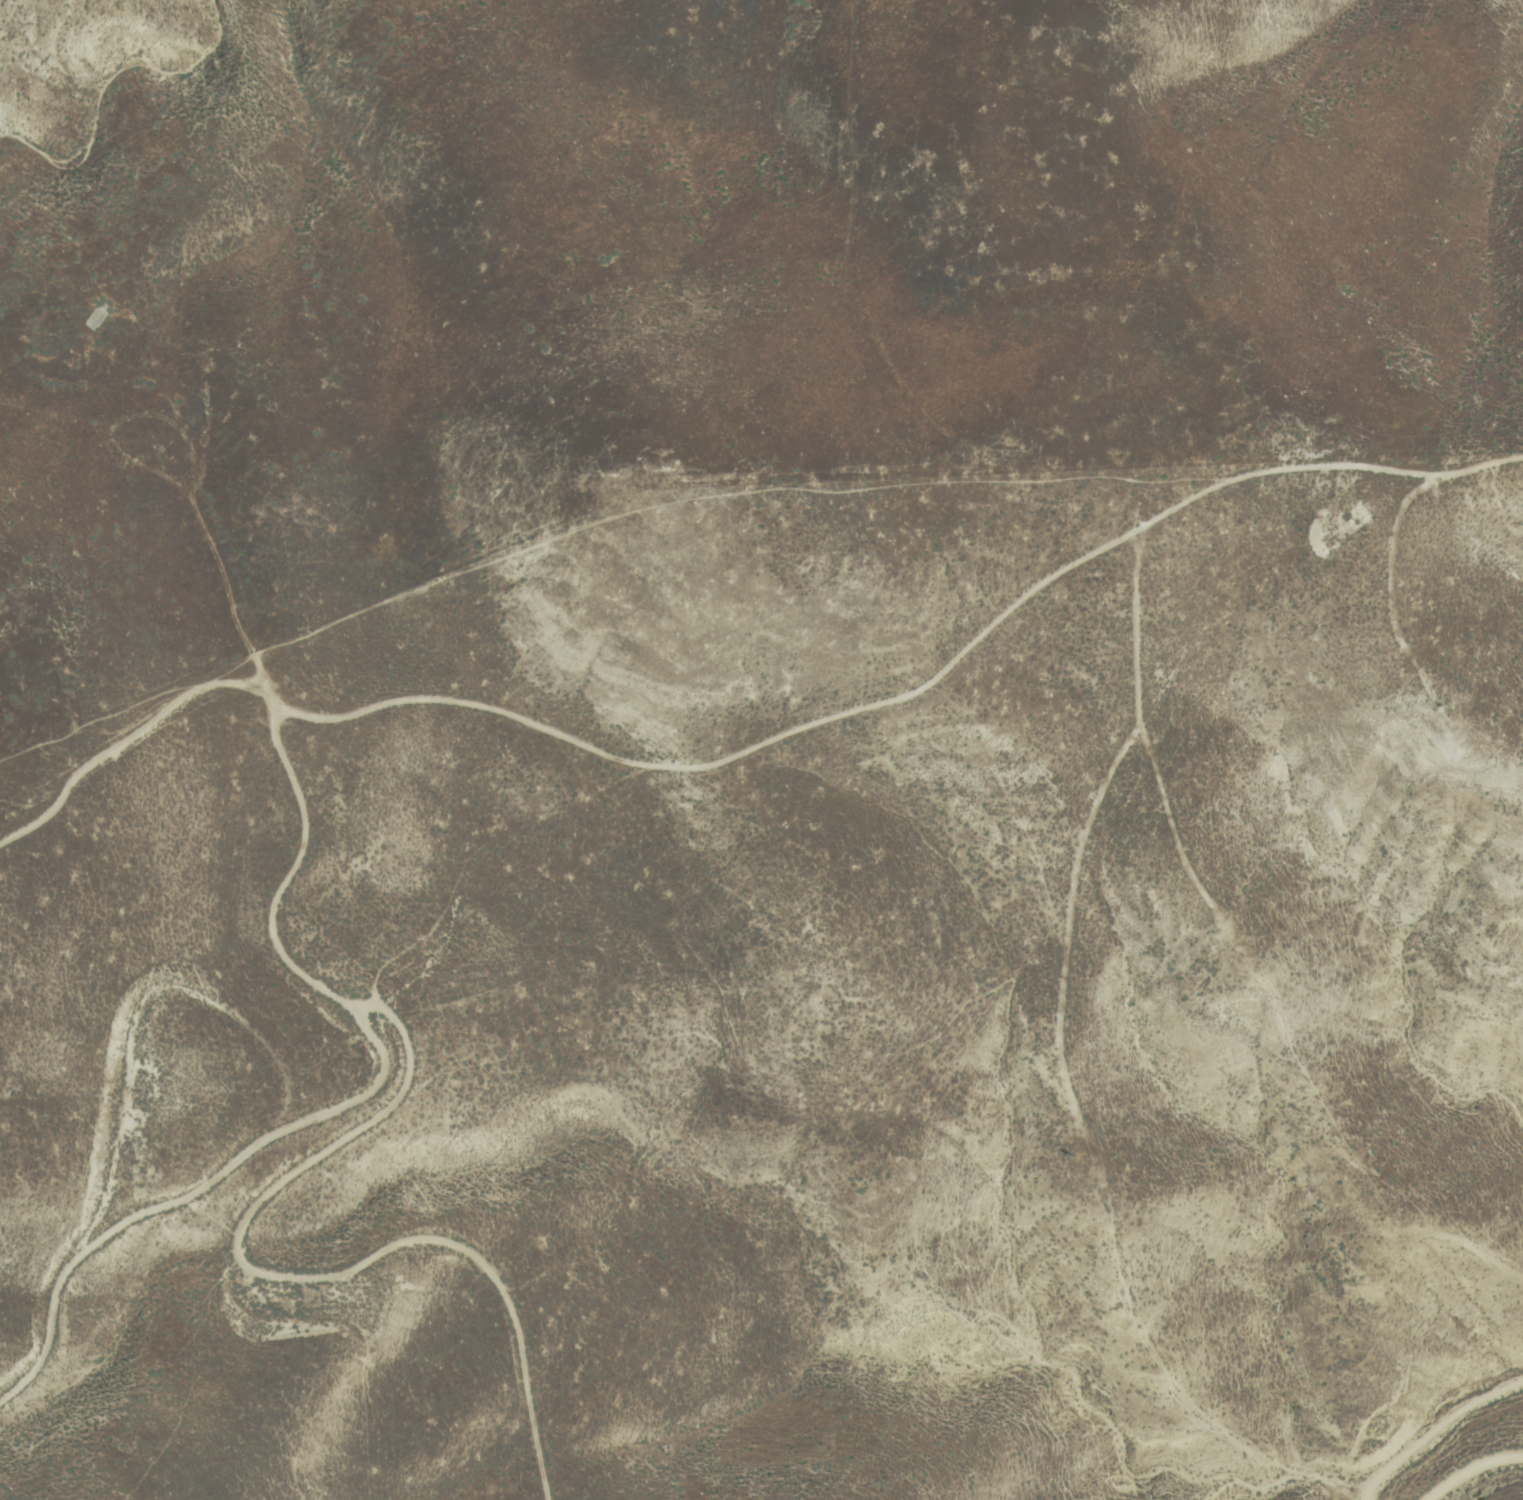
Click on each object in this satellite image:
building: (91, 320)
road: (761, 742)
road: (181, 1203)
road: (1438, 1433)
road: (1472, 1470)

